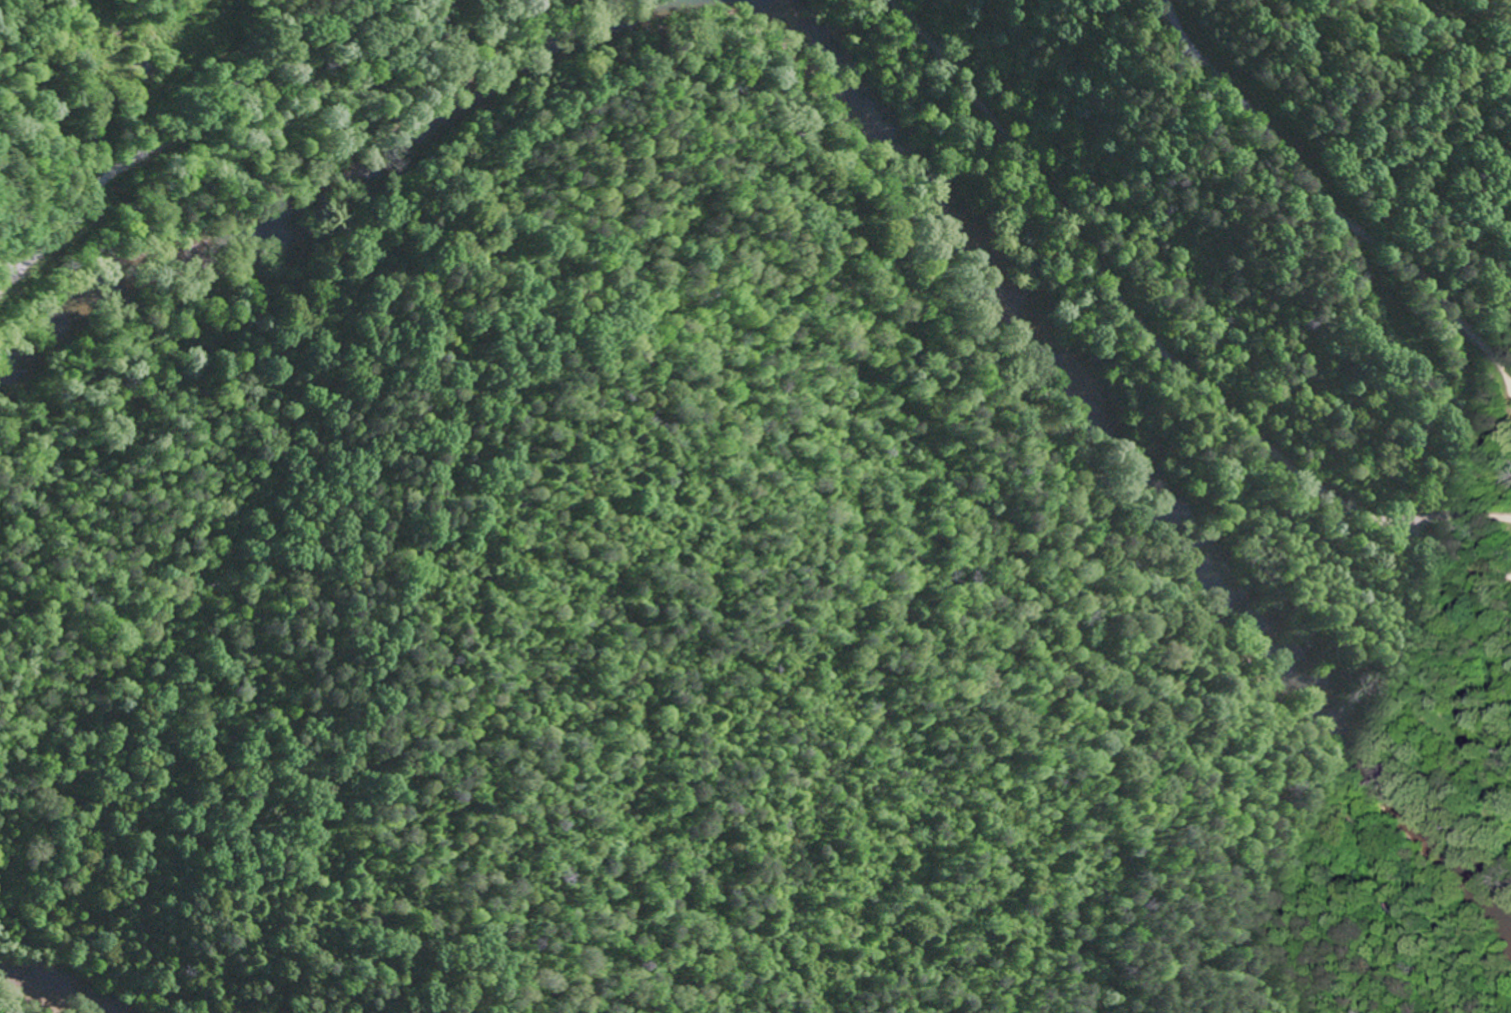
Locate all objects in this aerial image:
park: (1437, 14)
road: (174, 132)
road: (1333, 207)
road: (1159, 338)
road: (1453, 516)

